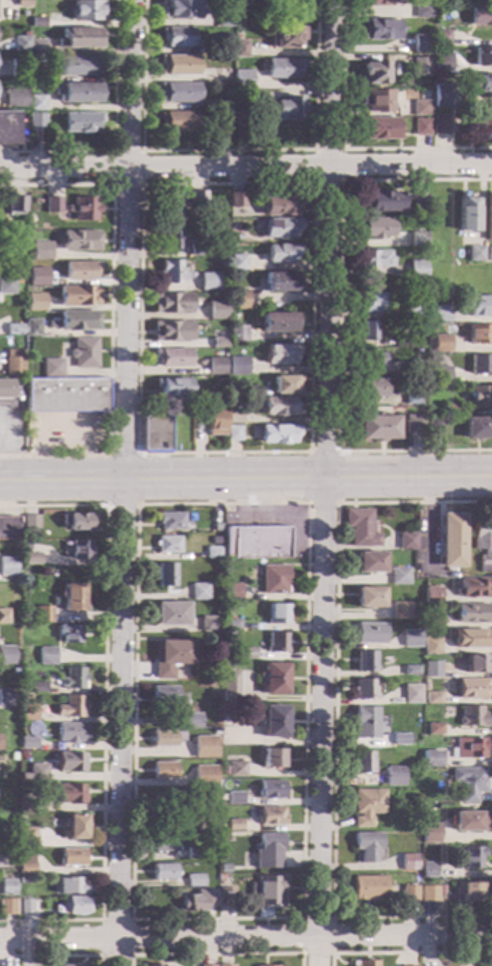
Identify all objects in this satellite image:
building: (383, 2)
building: (22, 3)
building: (180, 9)
building: (421, 10)
building: (87, 11)
building: (480, 16)
building: (223, 18)
building: (36, 22)
building: (378, 29)
building: (175, 36)
building: (285, 37)
building: (79, 38)
building: (440, 38)
building: (20, 43)
building: (418, 43)
building: (36, 47)
building: (222, 49)
building: (238, 49)
building: (482, 56)
building: (223, 58)
building: (441, 62)
building: (176, 65)
building: (79, 66)
building: (418, 66)
building: (17, 68)
building: (282, 68)
building: (373, 73)
building: (35, 79)
building: (242, 79)
building: (480, 84)
building: (77, 92)
building: (176, 93)
building: (218, 96)
building: (442, 97)
building: (14, 98)
building: (376, 100)
building: (36, 103)
building: (222, 105)
building: (239, 107)
building: (419, 107)
building: (287, 110)
building: (223, 118)
building: (175, 121)
building: (36, 122)
building: (80, 122)
building: (482, 123)
building: (440, 125)
building: (419, 127)
building: (8, 128)
building: (378, 128)
road: (114, 132)
road: (341, 149)
road: (228, 150)
road: (339, 150)
road: (141, 151)
road: (246, 167)
road: (142, 183)
building: (236, 200)
building: (380, 202)
building: (53, 205)
building: (181, 205)
building: (419, 205)
building: (16, 206)
building: (281, 206)
building: (84, 209)
building: (466, 213)
building: (488, 217)
building: (11, 220)
building: (29, 227)
building: (280, 228)
building: (375, 228)
building: (237, 237)
building: (171, 238)
building: (418, 239)
building: (80, 241)
building: (196, 247)
building: (42, 251)
building: (281, 253)
building: (475, 254)
building: (489, 254)
building: (6, 256)
building: (374, 258)
building: (237, 262)
building: (81, 270)
building: (417, 270)
building: (171, 272)
building: (33, 281)
building: (208, 282)
building: (281, 282)
building: (222, 284)
building: (6, 285)
building: (78, 297)
building: (238, 299)
building: (36, 302)
building: (368, 302)
building: (171, 303)
building: (480, 306)
building: (410, 309)
building: (216, 310)
building: (440, 313)
road: (111, 317)
road: (338, 318)
building: (78, 321)
building: (278, 322)
building: (412, 325)
building: (32, 327)
building: (14, 329)
building: (171, 331)
building: (365, 332)
building: (237, 334)
building: (479, 334)
building: (401, 342)
building: (219, 343)
building: (441, 344)
building: (84, 352)
building: (280, 354)
building: (172, 357)
building: (367, 359)
building: (13, 363)
building: (237, 365)
building: (480, 365)
building: (215, 366)
building: (414, 367)
building: (52, 368)
building: (440, 375)
building: (285, 385)
building: (172, 387)
building: (371, 388)
building: (5, 391)
building: (412, 393)
building: (66, 396)
building: (480, 396)
building: (217, 400)
building: (281, 406)
building: (449, 410)
building: (234, 417)
building: (215, 423)
building: (414, 424)
building: (434, 426)
building: (377, 427)
building: (477, 428)
parking lot: (65, 431)
building: (155, 433)
building: (232, 433)
building: (278, 434)
road: (40, 450)
road: (83, 450)
road: (323, 452)
road: (123, 454)
road: (125, 482)
road: (245, 482)
road: (325, 483)
road: (308, 503)
road: (323, 503)
road: (124, 505)
building: (77, 521)
building: (170, 521)
building: (30, 522)
building: (216, 527)
building: (8, 528)
building: (360, 528)
building: (406, 541)
building: (451, 541)
building: (256, 542)
building: (483, 544)
building: (168, 545)
building: (26, 547)
building: (80, 549)
building: (213, 552)
building: (31, 558)
building: (369, 562)
building: (7, 566)
building: (165, 575)
building: (398, 576)
building: (274, 579)
building: (472, 588)
building: (232, 591)
building: (199, 592)
building: (431, 595)
building: (73, 597)
building: (368, 597)
building: (400, 610)
building: (171, 613)
building: (470, 613)
building: (44, 614)
building: (277, 614)
building: (3, 617)
building: (431, 620)
building: (208, 624)
building: (230, 624)
building: (70, 633)
building: (370, 633)
building: (410, 638)
building: (470, 639)
building: (276, 643)
building: (430, 646)
building: (231, 651)
building: (246, 653)
building: (6, 655)
building: (171, 657)
building: (53, 659)
building: (365, 662)
building: (475, 664)
building: (431, 669)
building: (410, 670)
building: (14, 673)
building: (73, 678)
building: (275, 678)
building: (230, 686)
building: (37, 687)
building: (471, 688)
building: (364, 689)
building: (411, 694)
building: (166, 696)
building: (5, 697)
building: (432, 697)
building: (72, 707)
road: (105, 708)
road: (335, 713)
building: (28, 715)
building: (471, 717)
building: (191, 720)
building: (273, 722)
building: (365, 723)
building: (434, 729)
building: (71, 733)
building: (166, 739)
building: (399, 739)
building: (28, 743)
building: (203, 747)
building: (468, 748)
building: (13, 756)
building: (271, 758)
building: (431, 758)
building: (441, 760)
building: (71, 762)
building: (363, 763)
building: (236, 769)
building: (164, 770)
building: (224, 771)
building: (38, 772)
building: (393, 776)
building: (204, 777)
building: (468, 783)
building: (271, 789)
building: (70, 794)
building: (234, 798)
building: (166, 801)
building: (27, 806)
building: (366, 806)
building: (271, 816)
building: (468, 821)
building: (190, 823)
building: (234, 825)
building: (74, 827)
building: (11, 829)
building: (429, 833)
building: (27, 837)
building: (9, 841)
building: (163, 844)
building: (366, 846)
building: (268, 849)
building: (194, 853)
building: (73, 857)
building: (472, 858)
building: (407, 862)
building: (26, 864)
building: (224, 869)
building: (428, 870)
building: (163, 871)
building: (223, 877)
building: (194, 880)
building: (23, 881)
building: (71, 886)
building: (6, 887)
building: (368, 888)
building: (267, 891)
building: (469, 892)
building: (408, 893)
building: (427, 894)
building: (226, 896)
building: (211, 900)
building: (192, 902)
building: (74, 906)
building: (6, 907)
building: (24, 907)
road: (301, 917)
road: (132, 919)
road: (246, 939)
road: (405, 952)
road: (217, 953)
road: (56, 955)
building: (363, 963)
building: (67, 965)
building: (151, 965)
building: (204, 965)
building: (225, 965)

